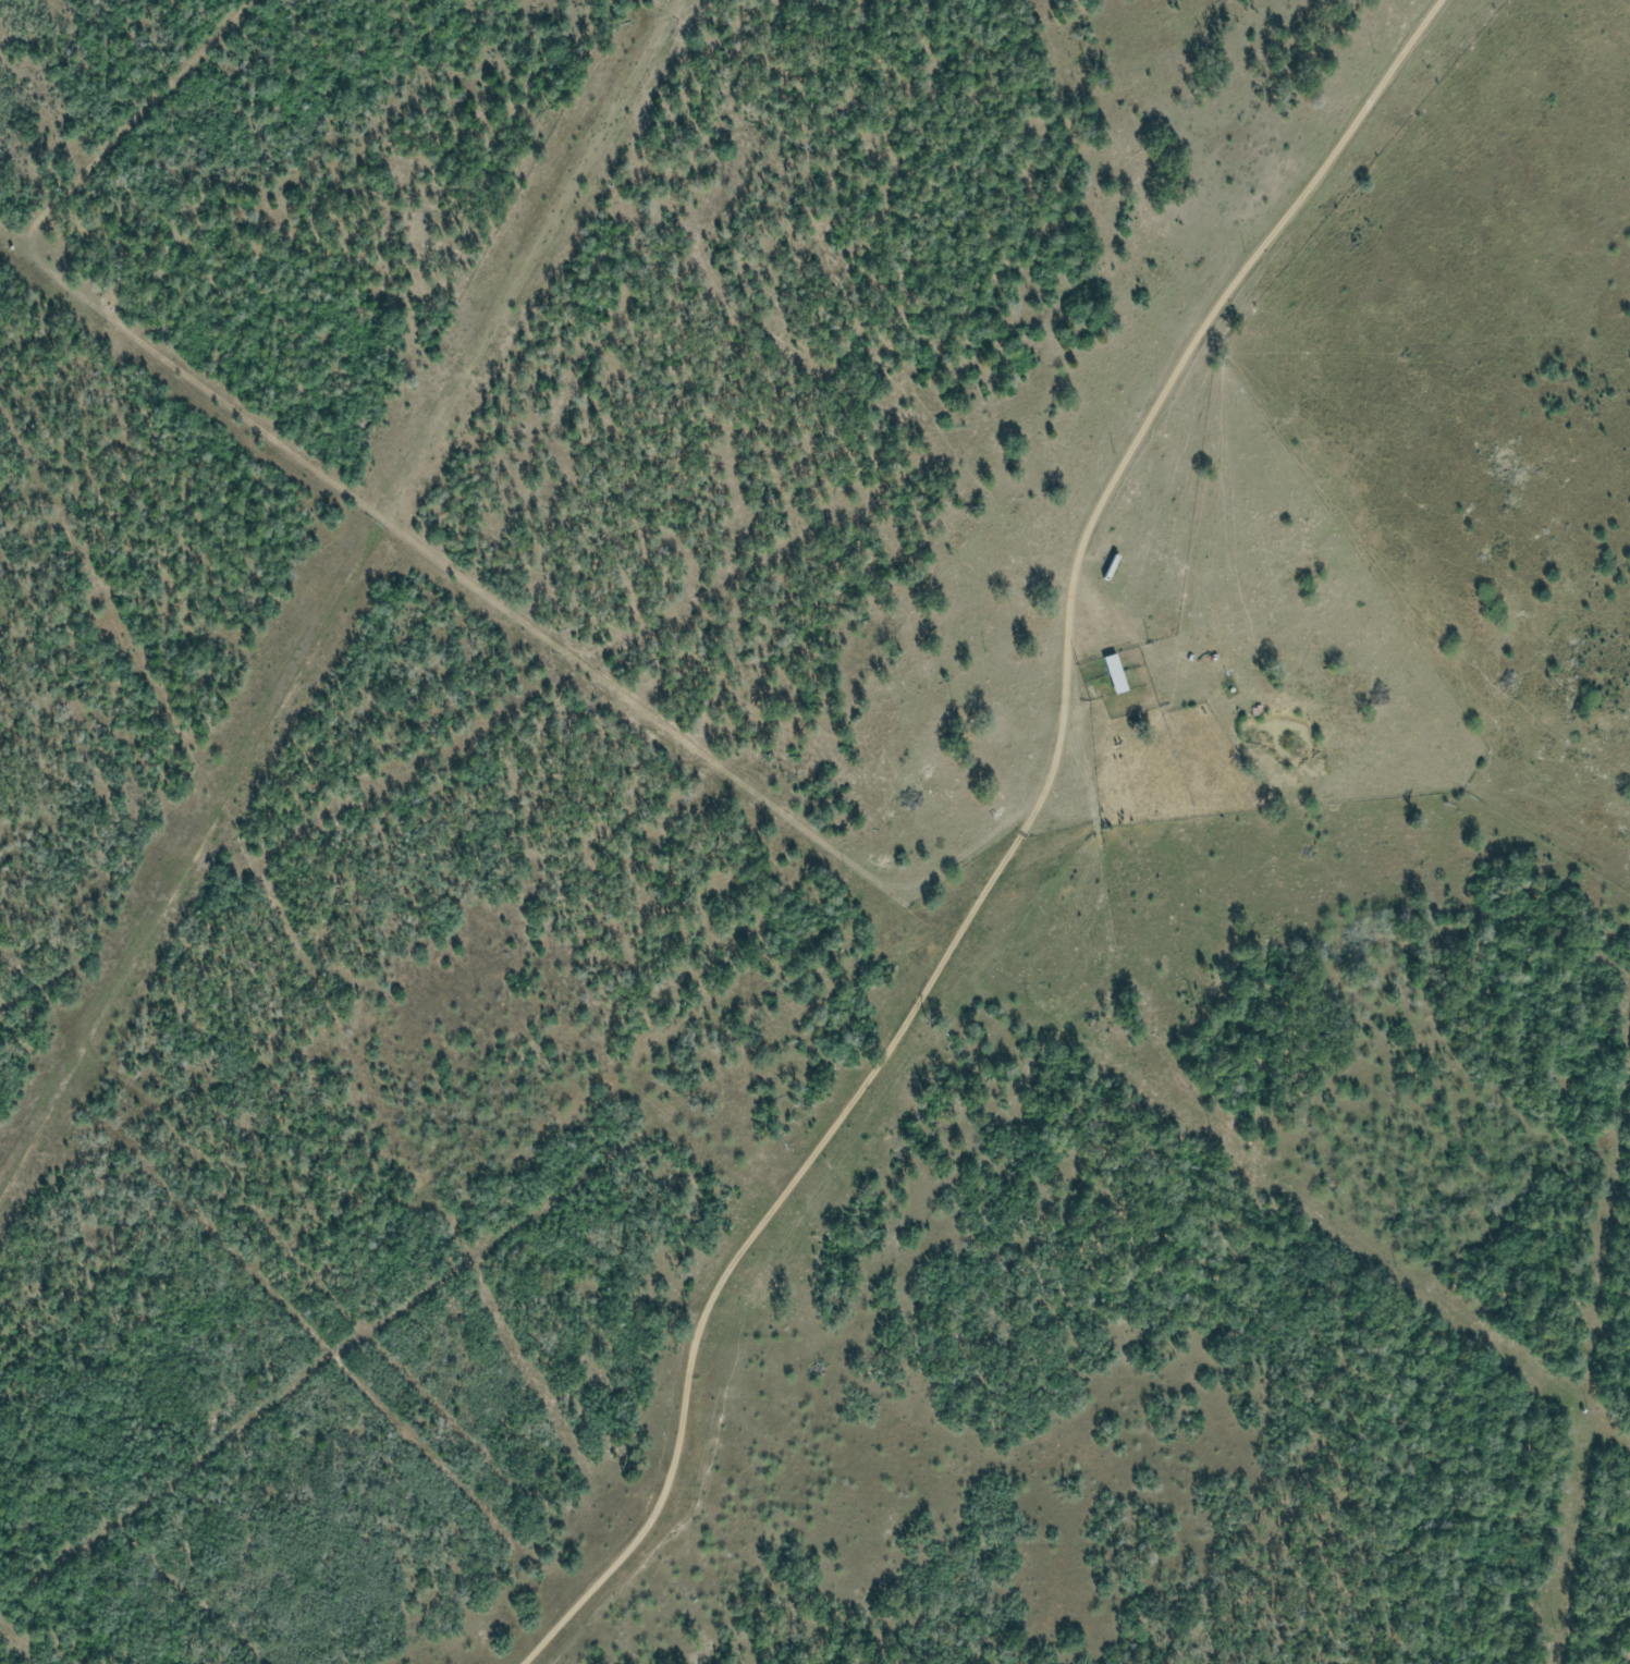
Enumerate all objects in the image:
building: (1114, 673)

